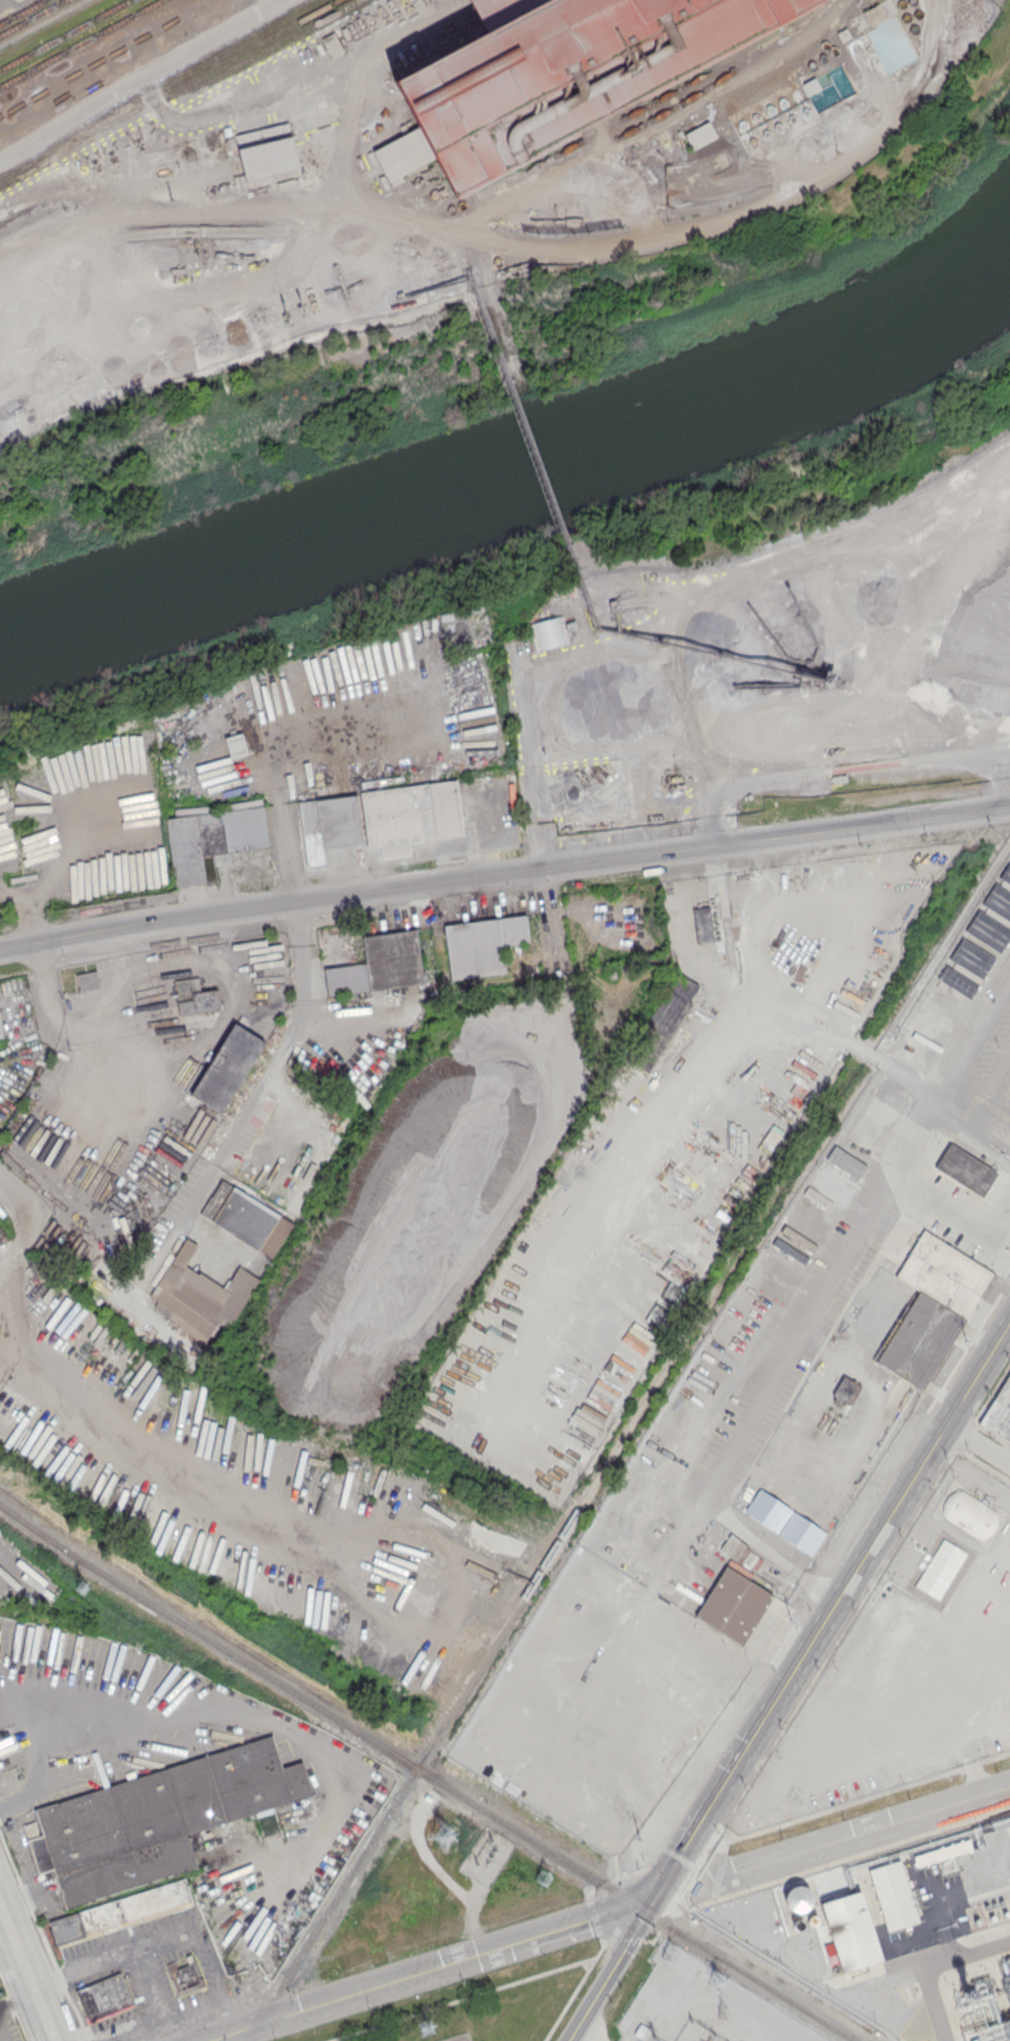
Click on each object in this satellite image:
road: (264, 7)
building: (879, 12)
railway: (32, 17)
railway: (42, 23)
railway: (64, 34)
railway: (80, 43)
railway: (361, 49)
building: (557, 75)
road: (139, 76)
building: (811, 87)
railway: (189, 95)
railway: (667, 98)
road: (358, 113)
building: (772, 120)
building: (700, 136)
building: (261, 153)
road: (519, 246)
road: (12, 249)
river: (515, 467)
park: (539, 546)
building: (460, 670)
road: (521, 735)
building: (590, 796)
building: (412, 814)
road: (729, 830)
building: (213, 838)
road: (538, 859)
road: (287, 867)
road: (504, 873)
building: (1003, 884)
building: (996, 912)
building: (703, 924)
building: (481, 945)
building: (971, 959)
building: (392, 960)
road: (38, 967)
building: (347, 978)
building: (87, 980)
building: (194, 996)
building: (937, 1014)
building: (661, 1023)
building: (917, 1025)
building: (1, 1031)
road: (802, 1033)
building: (910, 1037)
road: (968, 1037)
road: (866, 1054)
building: (227, 1068)
road: (956, 1115)
road: (240, 1119)
road: (553, 1123)
road: (1001, 1128)
building: (846, 1161)
building: (965, 1180)
building: (832, 1184)
road: (16, 1194)
building: (246, 1218)
building: (198, 1295)
road: (821, 1306)
building: (931, 1306)
power tower: (965, 1340)
building: (844, 1389)
building: (998, 1414)
road: (977, 1447)
building: (970, 1513)
road: (777, 1558)
road: (858, 1564)
building: (942, 1565)
power tower: (81, 1589)
building: (734, 1606)
power tower: (789, 1621)
railway: (489, 1649)
road: (220, 1708)
railway: (426, 1774)
building: (155, 1818)
power tower: (444, 1835)
road: (863, 1836)
power tower: (639, 1839)
building: (942, 1852)
road: (680, 1854)
power substation: (486, 1855)
power tower: (544, 1878)
building: (893, 1895)
building: (798, 1897)
storage tank: (798, 1897)
traffic signals: (651, 1902)
building: (120, 1911)
road: (594, 1916)
road: (472, 1918)
building: (810, 1919)
storage tank: (810, 1919)
building: (798, 1924)
storage tank: (798, 1924)
building: (851, 1931)
road: (43, 1938)
road: (15, 1945)
road: (207, 1946)
road: (126, 1952)
power tower: (670, 1958)
road: (433, 1971)
road: (611, 1972)
building: (185, 1977)
power tower: (719, 1980)
road: (577, 1988)
building: (104, 1997)
road: (461, 1998)
road: (14, 2005)
power substation: (700, 2005)
road: (15, 2006)
road: (44, 2011)
power tower: (723, 2013)
power tower: (427, 2027)
road: (113, 2036)
road: (583, 2036)
power substation: (456, 2037)
power tower: (655, 2039)

